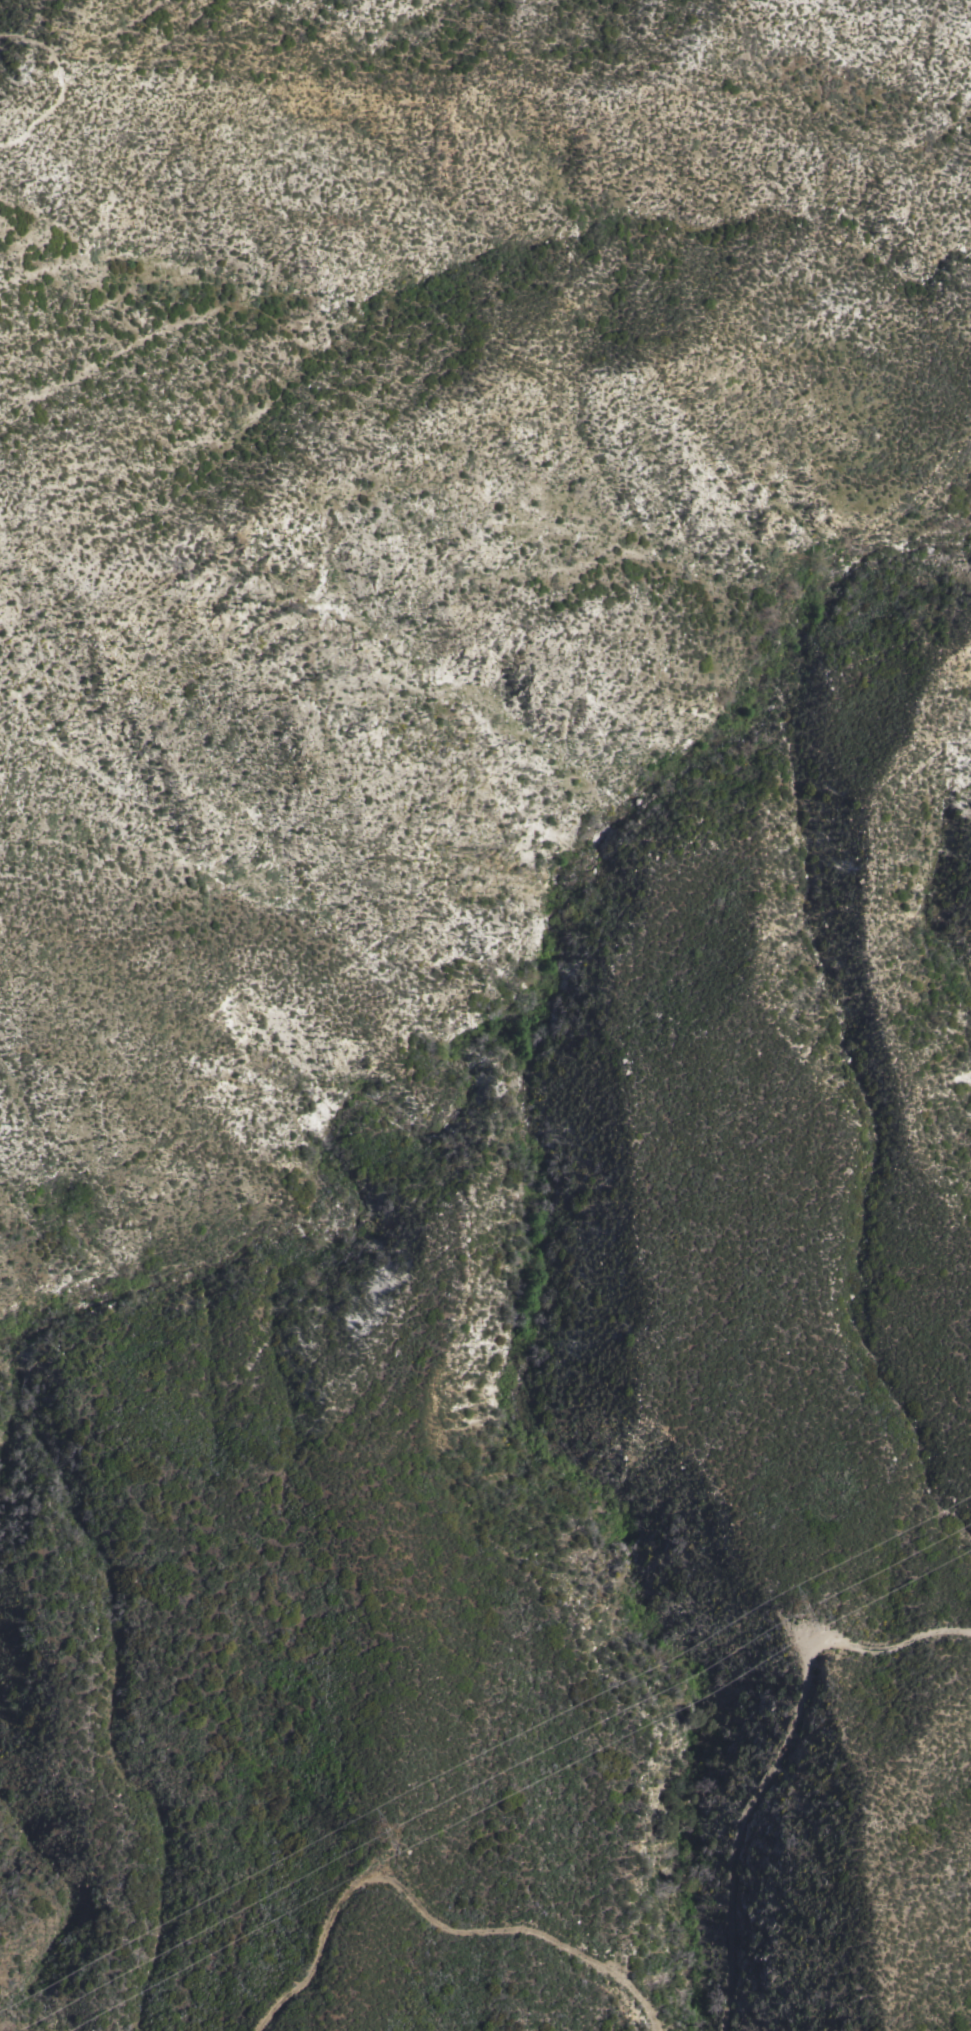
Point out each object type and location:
road: (57, 82)
power tower: (795, 1605)
road: (882, 1647)
power tower: (379, 1834)
road: (734, 1841)
road: (428, 1918)

